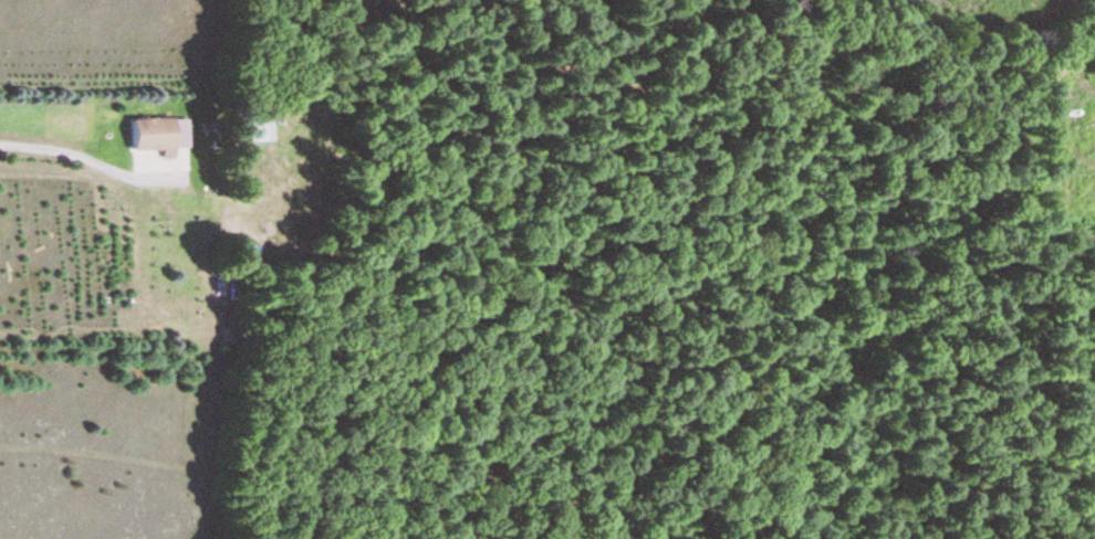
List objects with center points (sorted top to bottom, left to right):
building: (156, 136)

